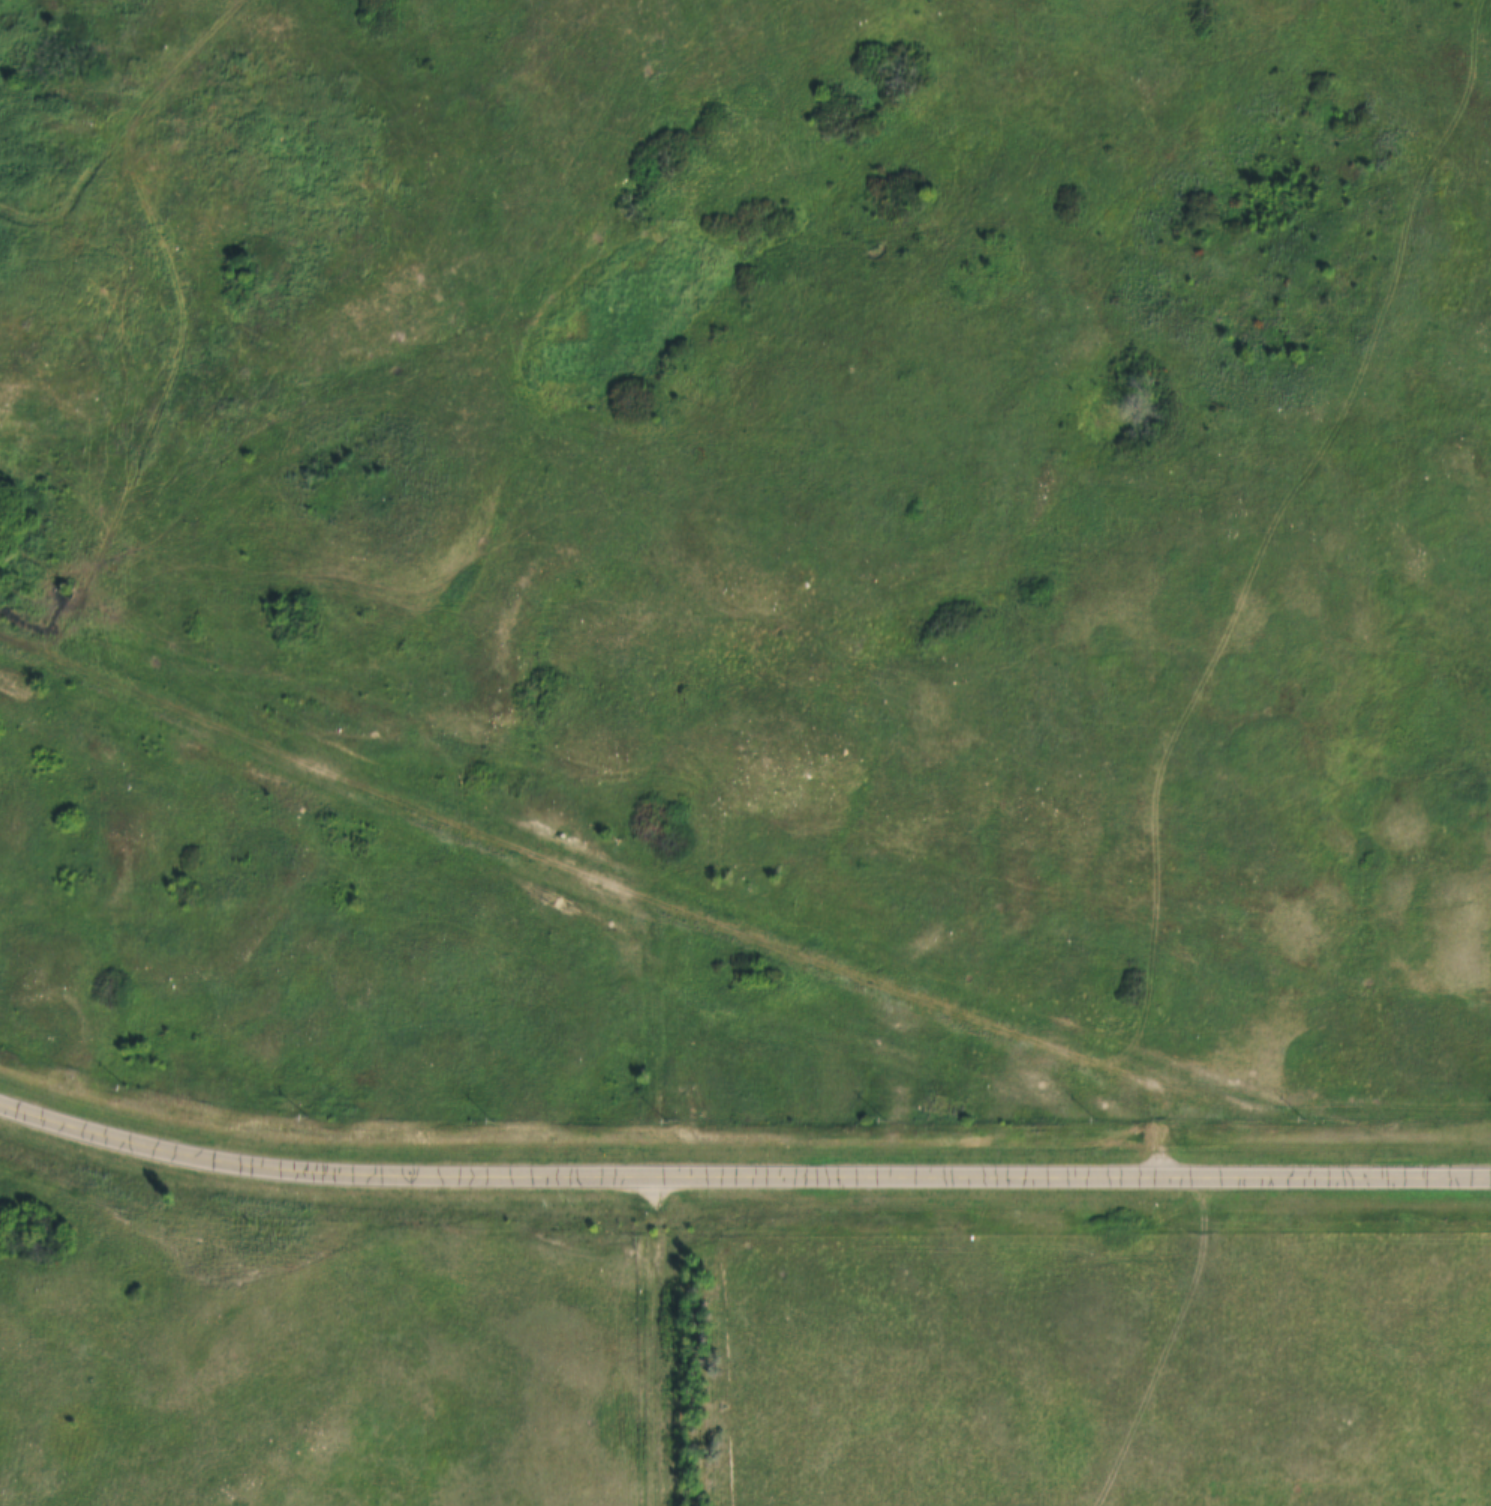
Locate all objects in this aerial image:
road: (327, 1171)
road: (1076, 1172)
road: (663, 1338)

